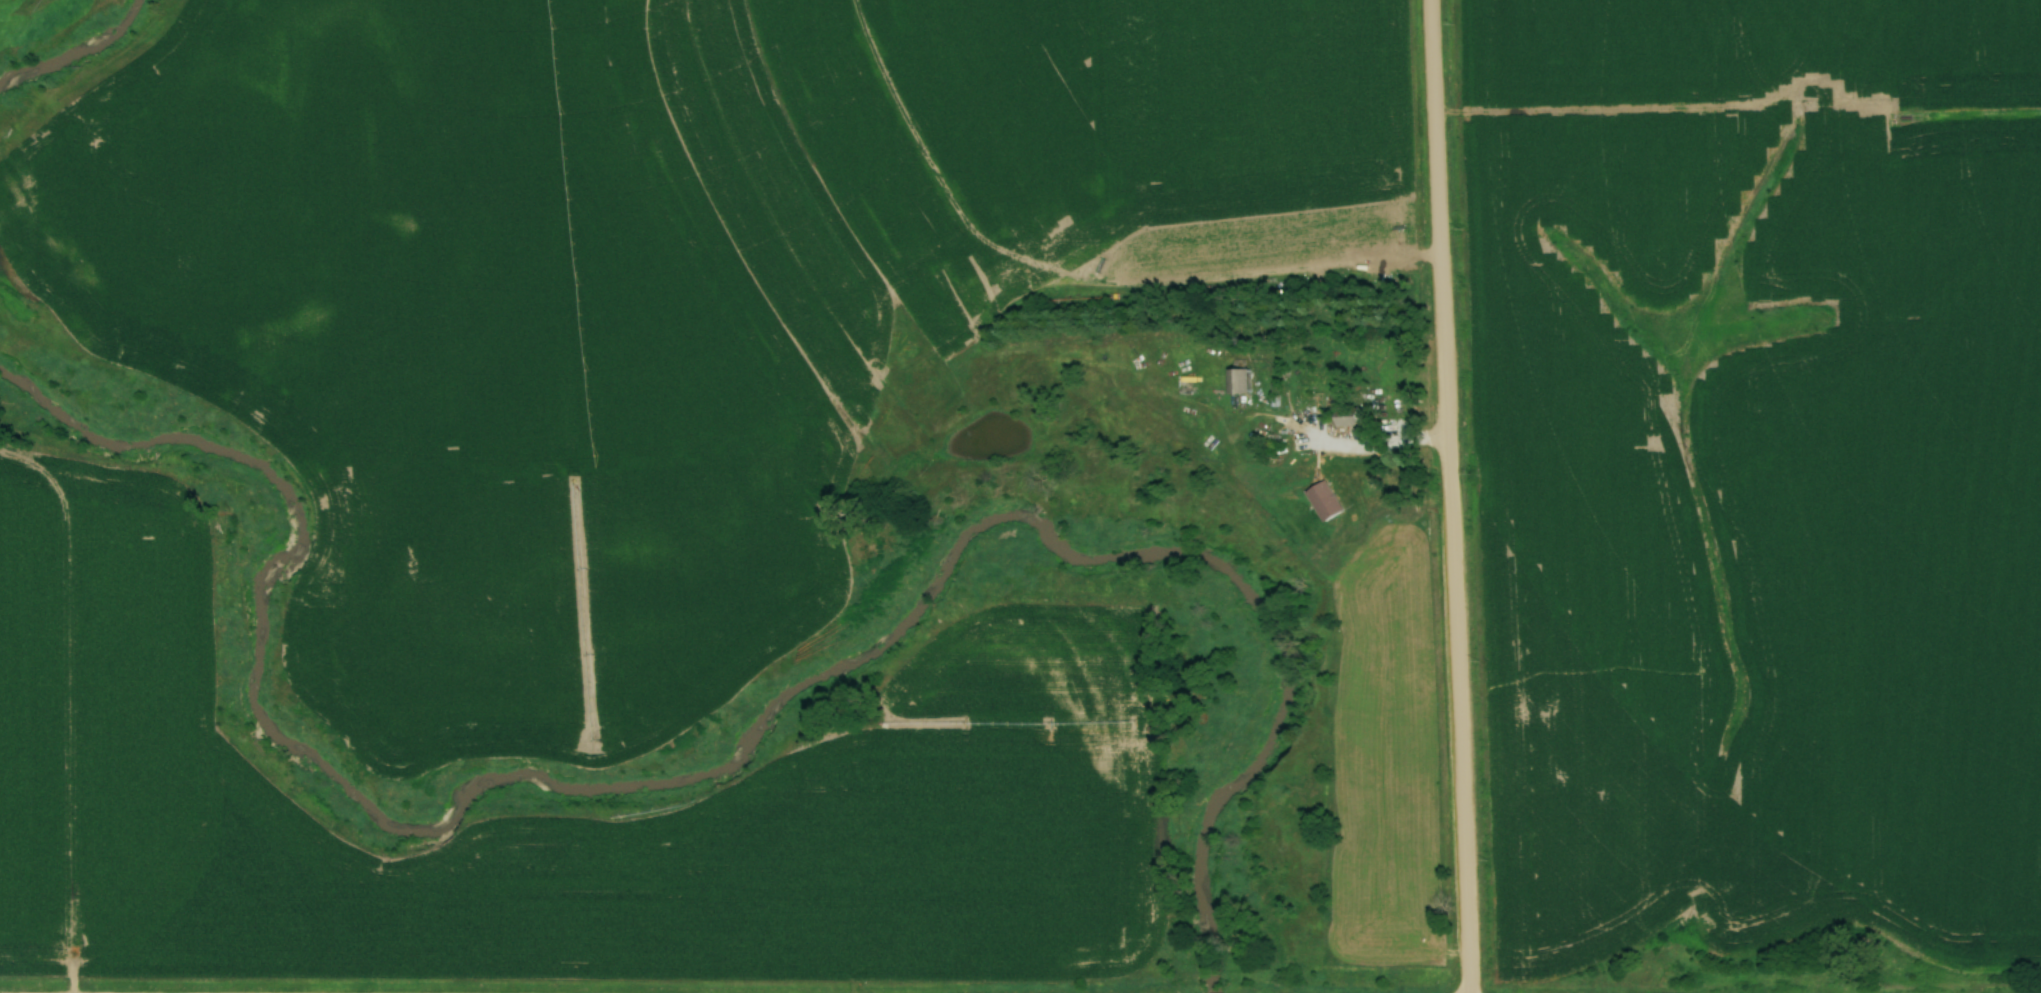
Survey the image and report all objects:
building: (797, 114)
building: (1239, 378)
building: (1353, 417)
road: (1374, 455)
road: (1447, 496)
building: (1329, 503)

